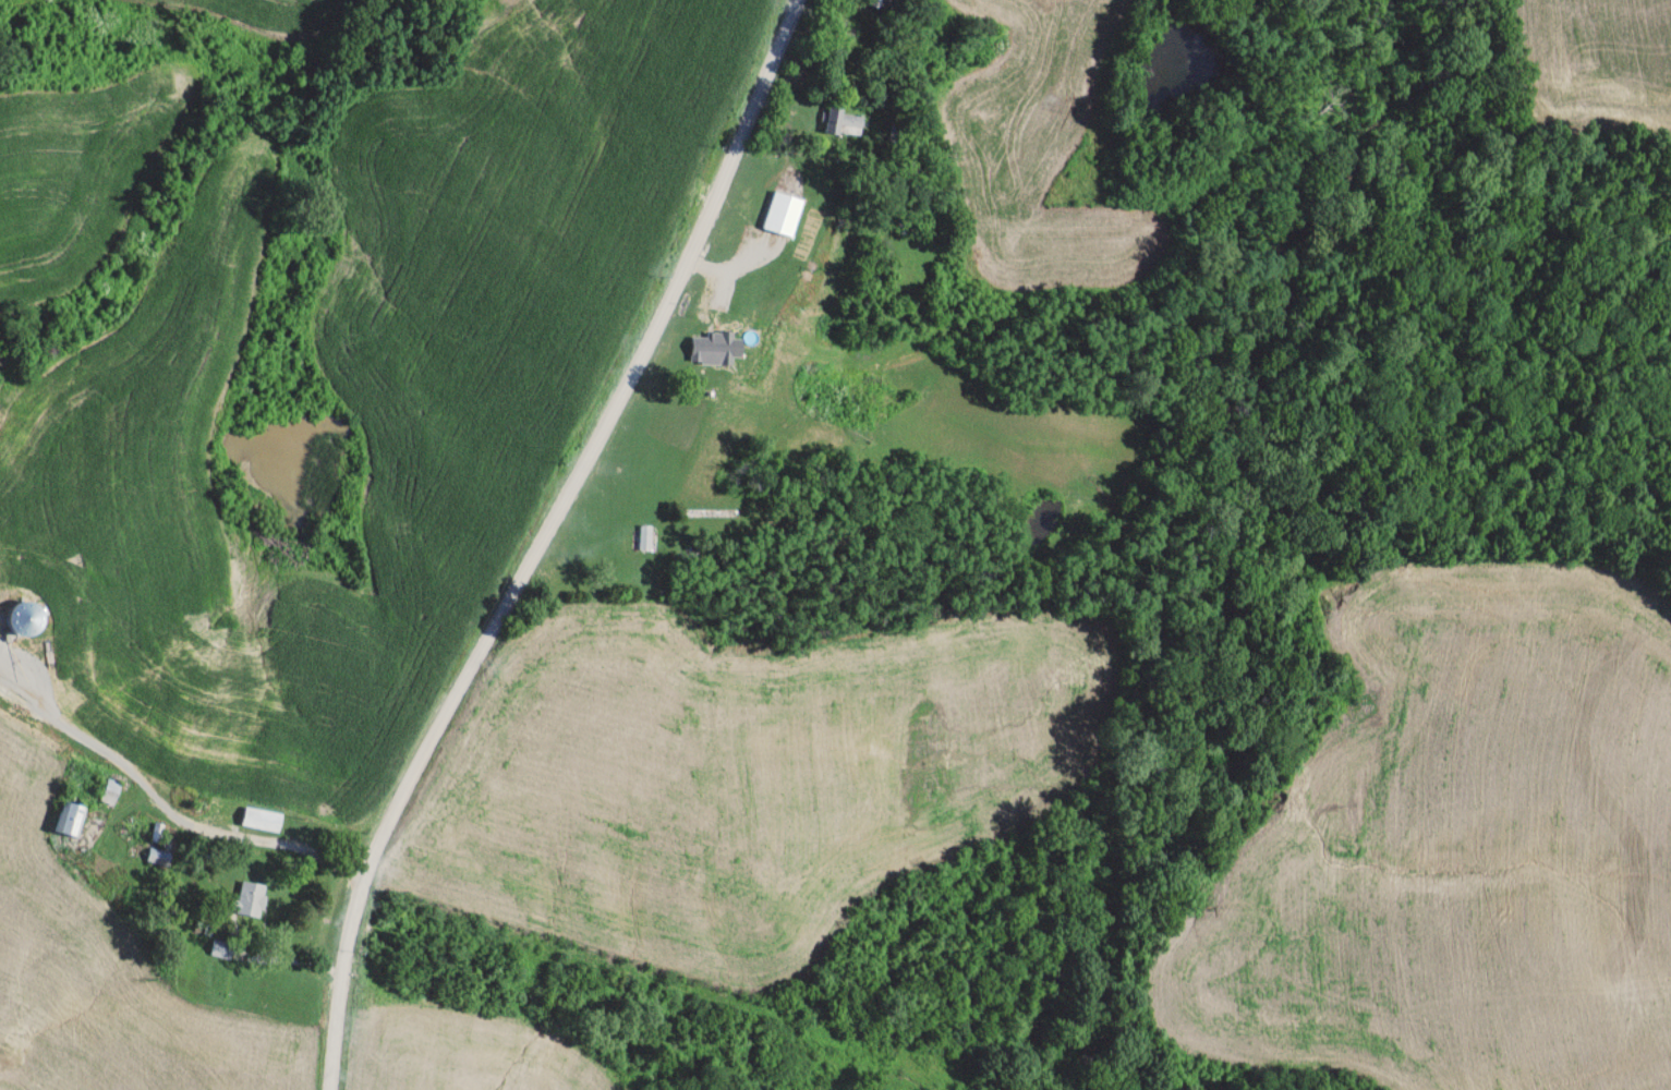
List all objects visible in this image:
building: (850, 121)
building: (788, 214)
building: (919, 228)
building: (712, 348)
road: (545, 536)
building: (651, 537)
building: (116, 791)
road: (175, 816)
building: (75, 818)
building: (267, 819)
building: (162, 857)
building: (255, 898)
building: (226, 948)

